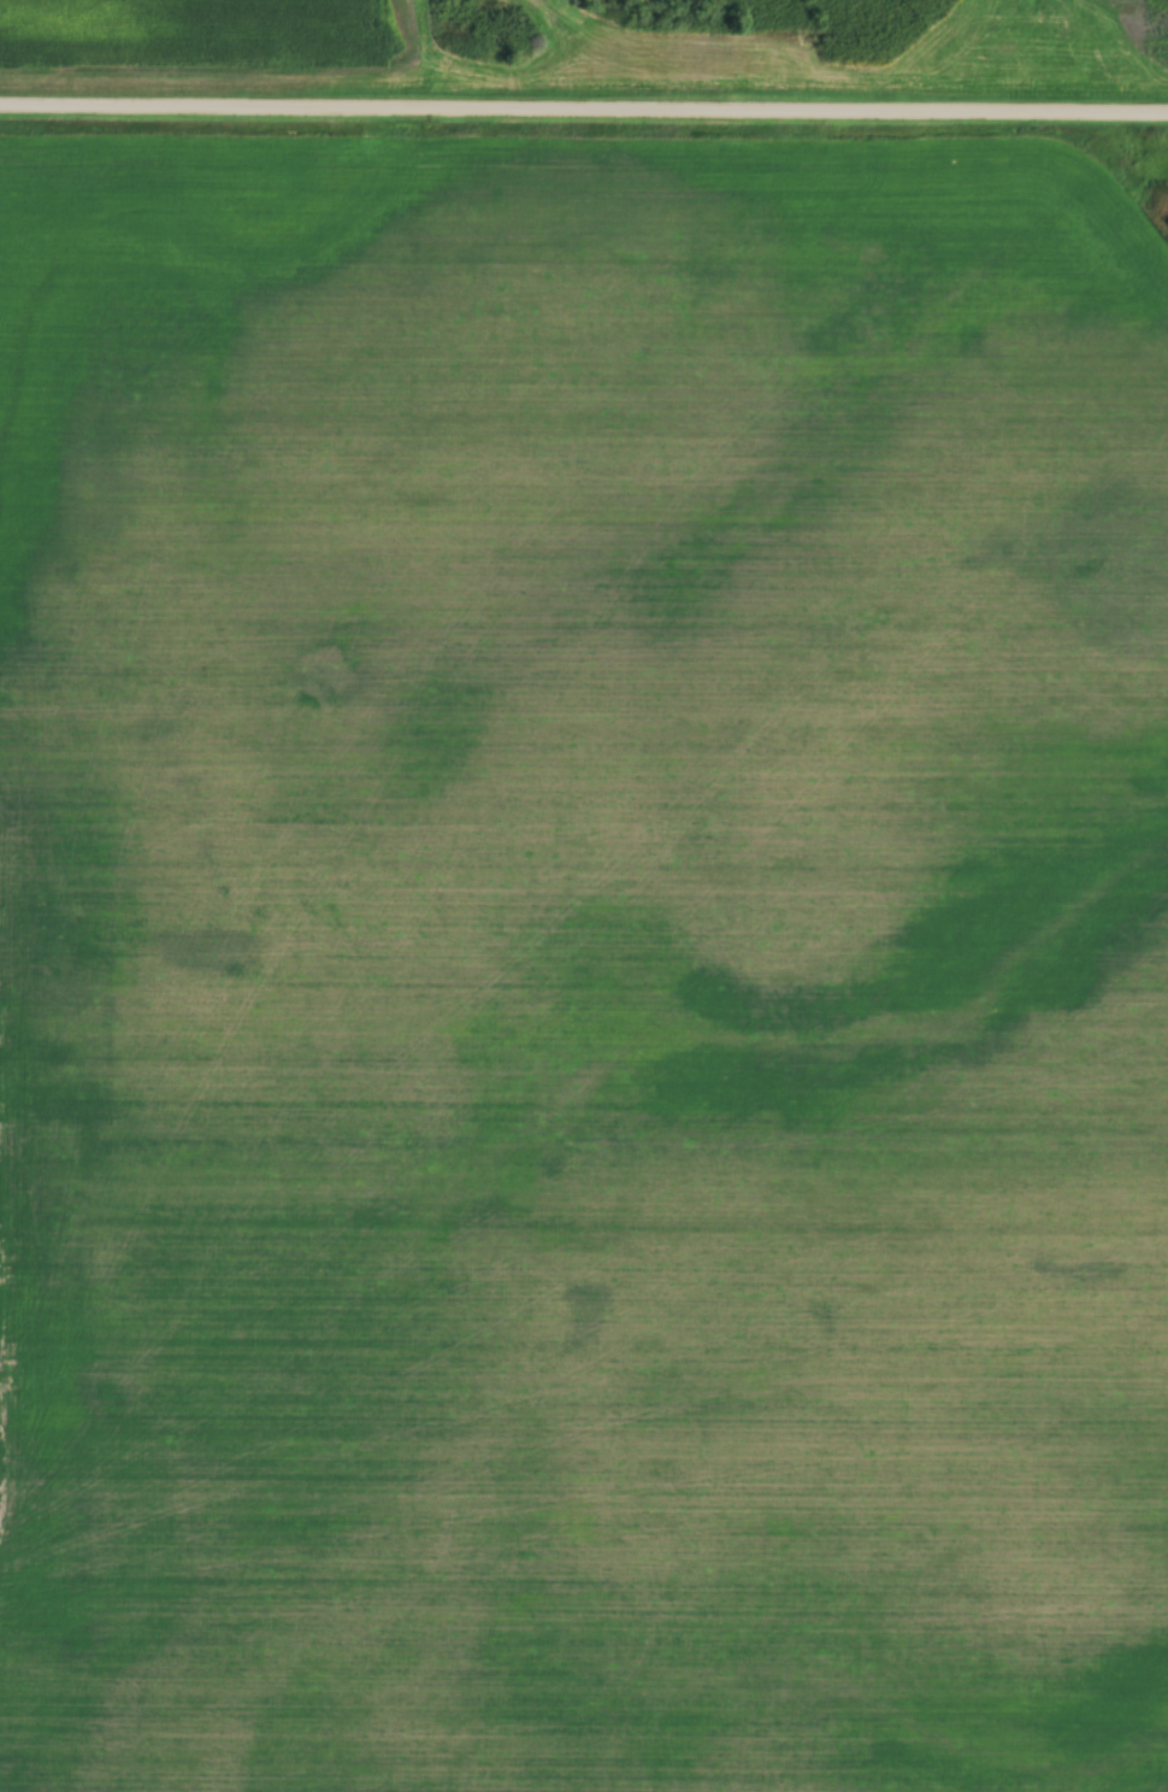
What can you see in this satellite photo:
road: (584, 105)

